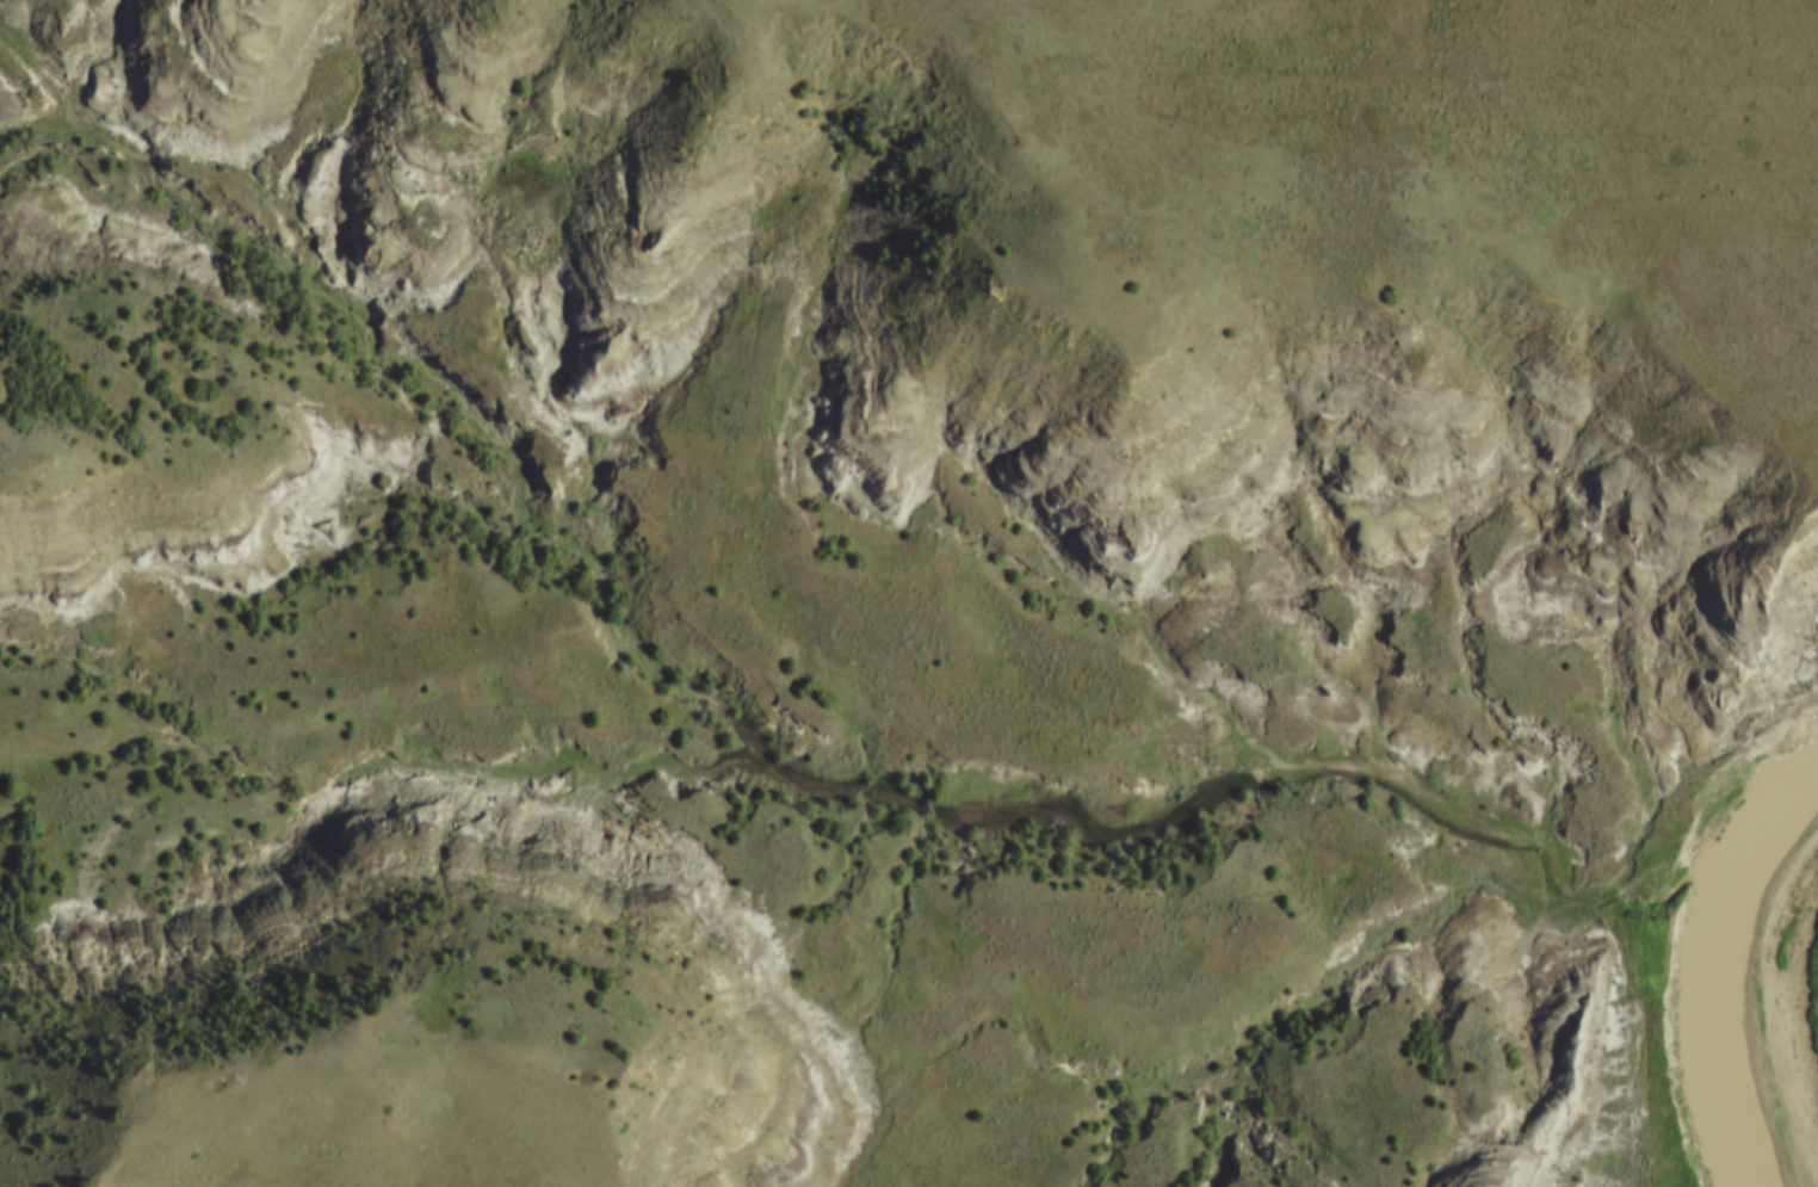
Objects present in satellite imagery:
river: (1755, 1002)

